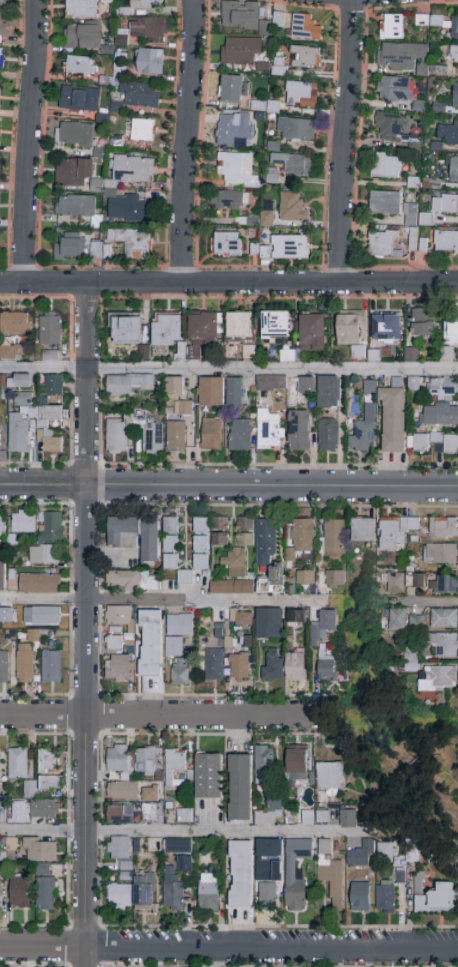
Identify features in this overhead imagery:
building: (105, 0)
building: (1, 3)
building: (145, 4)
building: (81, 9)
building: (241, 16)
building: (2, 27)
building: (391, 27)
building: (148, 28)
building: (305, 28)
building: (454, 28)
building: (82, 36)
building: (240, 51)
building: (399, 56)
building: (454, 56)
building: (1, 57)
building: (304, 57)
building: (150, 61)
building: (81, 66)
building: (233, 89)
building: (394, 89)
building: (140, 95)
building: (301, 95)
building: (455, 96)
building: (79, 99)
building: (438, 107)
building: (389, 127)
building: (226, 128)
building: (295, 129)
building: (139, 131)
building: (448, 133)
building: (74, 135)
road: (29, 141)
road: (187, 141)
road: (344, 141)
building: (293, 164)
building: (386, 166)
building: (133, 169)
building: (237, 170)
building: (452, 170)
building: (73, 172)
building: (229, 200)
building: (385, 203)
building: (445, 205)
building: (75, 206)
building: (292, 208)
building: (127, 209)
building: (266, 219)
building: (251, 220)
building: (445, 242)
building: (383, 244)
building: (226, 245)
building: (70, 247)
building: (290, 247)
building: (137, 251)
road: (229, 283)
building: (424, 323)
building: (14, 324)
building: (239, 325)
building: (276, 325)
building: (387, 327)
building: (349, 328)
building: (50, 329)
building: (126, 329)
building: (167, 330)
building: (451, 330)
building: (202, 332)
building: (313, 333)
building: (357, 351)
building: (7, 353)
building: (248, 353)
building: (447, 353)
building: (411, 355)
building: (50, 356)
building: (290, 356)
road: (228, 370)
building: (23, 381)
building: (306, 382)
building: (130, 384)
building: (270, 384)
building: (54, 385)
building: (174, 386)
building: (443, 389)
building: (211, 392)
building: (328, 392)
building: (235, 394)
building: (23, 399)
building: (183, 408)
building: (440, 414)
building: (393, 416)
building: (364, 423)
building: (47, 426)
building: (269, 429)
building: (299, 431)
building: (18, 433)
building: (117, 435)
building: (211, 435)
building: (239, 435)
building: (328, 435)
building: (176, 436)
building: (153, 438)
building: (422, 441)
building: (451, 445)
road: (228, 484)
building: (23, 522)
building: (2, 527)
building: (52, 528)
building: (444, 528)
building: (219, 531)
building: (363, 531)
building: (395, 531)
building: (244, 532)
building: (302, 535)
building: (135, 536)
building: (334, 537)
building: (265, 541)
building: (171, 543)
building: (200, 543)
building: (44, 554)
building: (439, 554)
building: (233, 575)
building: (277, 575)
building: (2, 576)
building: (185, 577)
building: (305, 578)
building: (335, 578)
building: (418, 579)
building: (132, 581)
building: (39, 583)
building: (394, 584)
building: (444, 584)
road: (160, 597)
road: (429, 601)
building: (119, 615)
building: (41, 616)
building: (297, 617)
building: (241, 618)
building: (397, 619)
building: (444, 619)
building: (417, 622)
building: (269, 623)
road: (84, 624)
building: (179, 625)
building: (317, 628)
building: (33, 635)
building: (150, 643)
building: (114, 644)
building: (443, 644)
building: (174, 646)
building: (24, 662)
building: (272, 665)
building: (214, 666)
building: (4, 667)
building: (51, 667)
building: (238, 667)
building: (295, 667)
building: (326, 667)
building: (118, 669)
building: (180, 673)
building: (430, 674)
road: (159, 717)
building: (118, 758)
building: (48, 760)
building: (145, 760)
building: (17, 763)
building: (264, 764)
building: (297, 764)
building: (174, 765)
building: (209, 776)
building: (330, 776)
building: (50, 783)
building: (28, 788)
building: (240, 788)
building: (122, 790)
building: (150, 794)
building: (43, 809)
building: (3, 810)
building: (270, 810)
building: (152, 811)
building: (18, 813)
building: (120, 815)
building: (184, 816)
building: (325, 817)
building: (307, 818)
building: (347, 818)
road: (196, 833)
building: (177, 846)
building: (119, 848)
building: (11, 850)
building: (40, 850)
building: (385, 850)
building: (411, 851)
building: (360, 857)
building: (268, 860)
building: (184, 865)
building: (126, 872)
building: (295, 873)
building: (240, 874)
building: (331, 874)
building: (398, 877)
building: (45, 889)
building: (0, 890)
building: (172, 890)
building: (20, 891)
building: (143, 891)
building: (208, 892)
building: (267, 896)
building: (360, 897)
building: (433, 897)
building: (119, 898)
building: (385, 899)
road: (229, 947)

